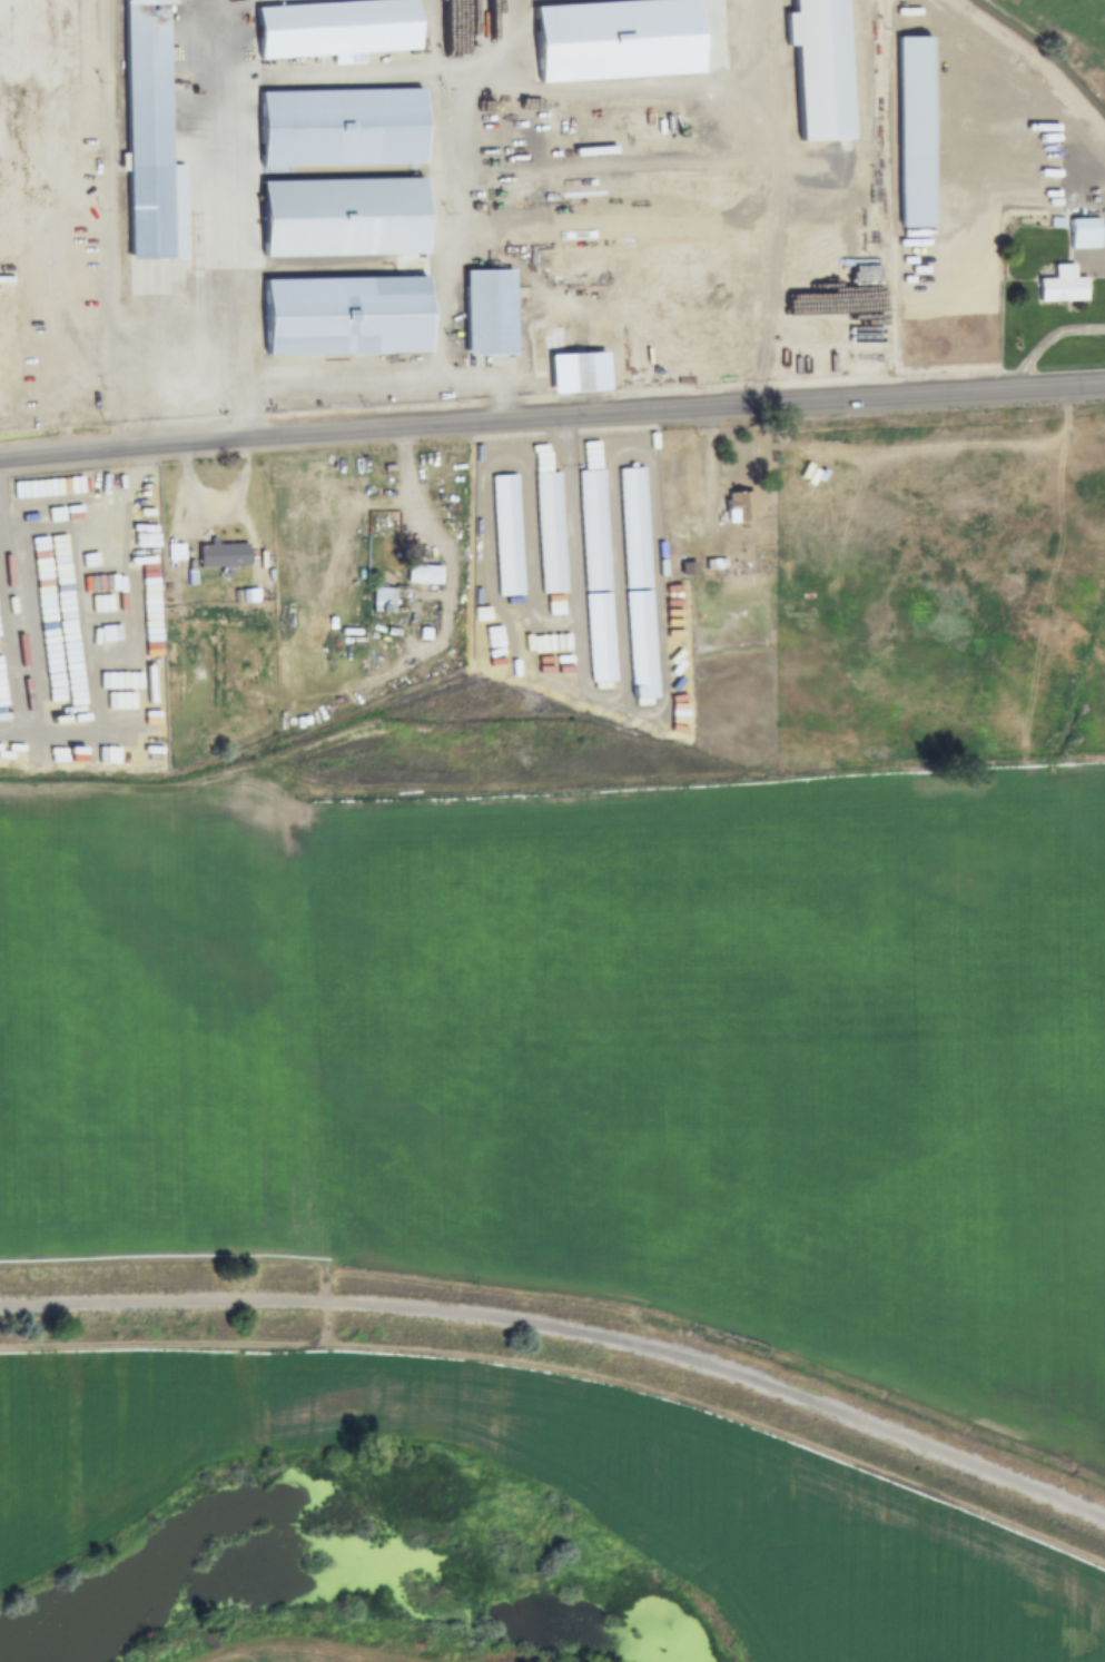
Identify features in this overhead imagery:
road: (234, 0)
building: (337, 30)
crop: (1067, 32)
road: (480, 33)
building: (614, 40)
road: (748, 61)
building: (822, 68)
road: (361, 71)
road: (732, 89)
road: (1032, 96)
building: (342, 129)
building: (914, 131)
building: (150, 142)
road: (344, 174)
road: (662, 175)
road: (653, 190)
building: (1093, 211)
road: (451, 215)
building: (344, 218)
building: (1055, 222)
building: (579, 224)
building: (1085, 234)
road: (1089, 256)
road: (505, 259)
road: (342, 268)
road: (106, 270)
building: (813, 271)
road: (772, 284)
building: (1062, 285)
building: (490, 313)
building: (346, 315)
road: (1045, 342)
building: (550, 345)
road: (162, 356)
road: (599, 369)
building: (573, 374)
road: (482, 380)
road: (552, 418)
road: (216, 501)
building: (740, 507)
road: (697, 525)
building: (637, 530)
road: (247, 531)
building: (595, 532)
building: (551, 534)
building: (507, 536)
road: (530, 536)
road: (178, 543)
road: (487, 543)
building: (674, 545)
building: (223, 555)
building: (673, 557)
building: (689, 557)
road: (700, 558)
road: (451, 563)
building: (716, 564)
building: (689, 570)
building: (190, 574)
building: (282, 574)
building: (423, 576)
road: (616, 581)
crop: (939, 594)
building: (236, 596)
building: (249, 596)
building: (383, 600)
road: (513, 634)
road: (648, 715)
road: (551, 802)
crop: (595, 1057)
road: (204, 1254)
road: (568, 1334)
road: (569, 1375)
crop: (556, 1495)
crop: (303, 1652)

